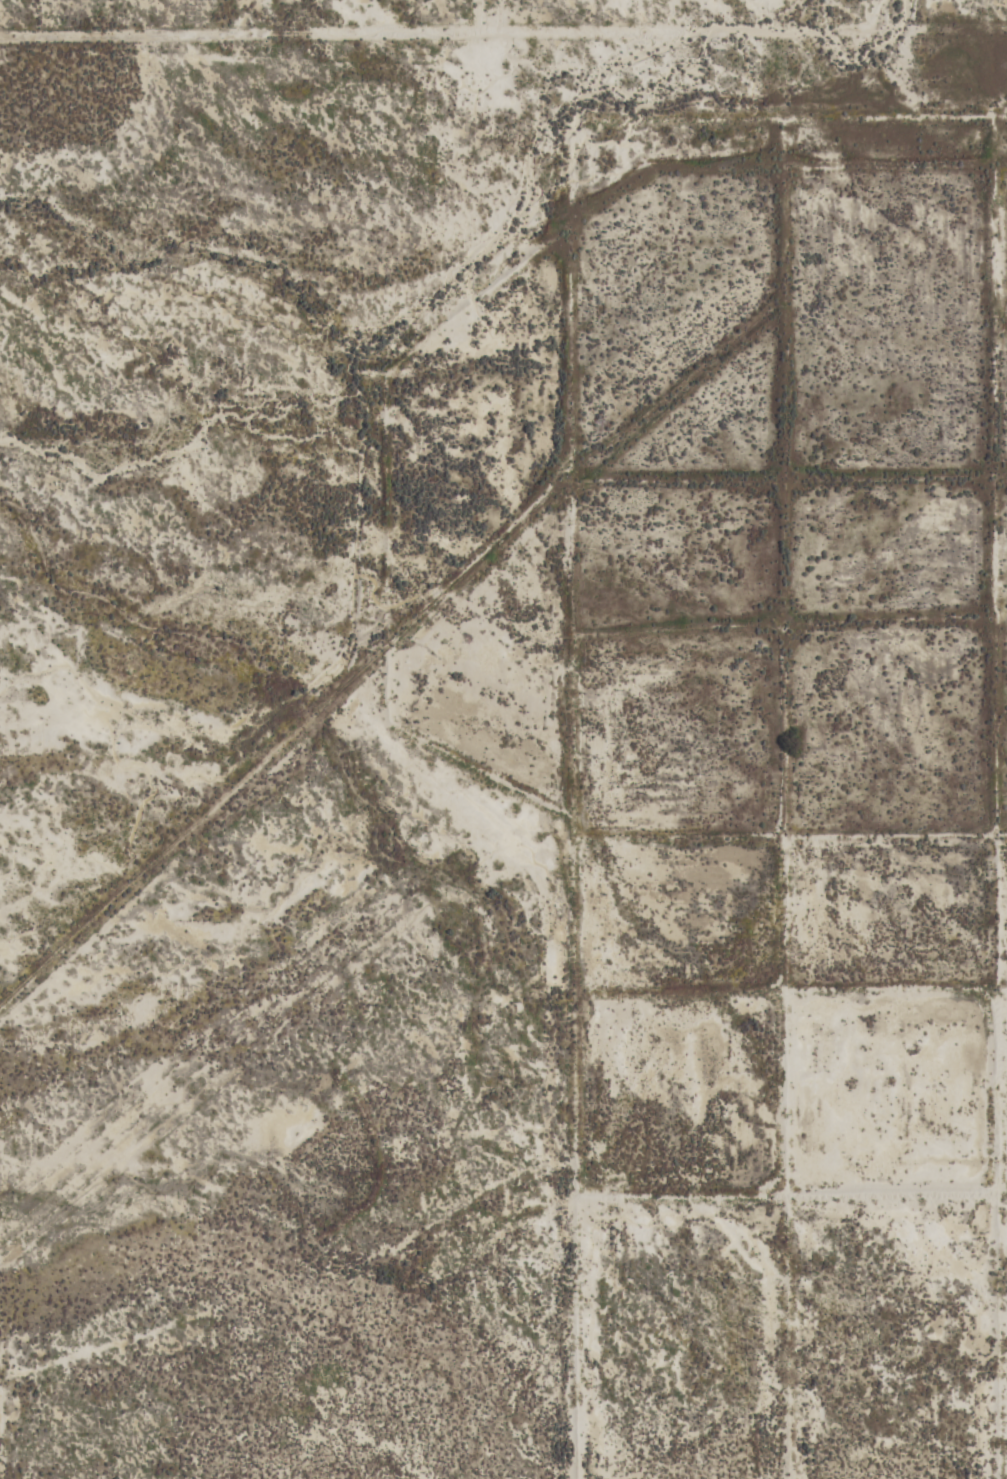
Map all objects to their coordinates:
railway: (699, 462)
railway: (694, 471)

